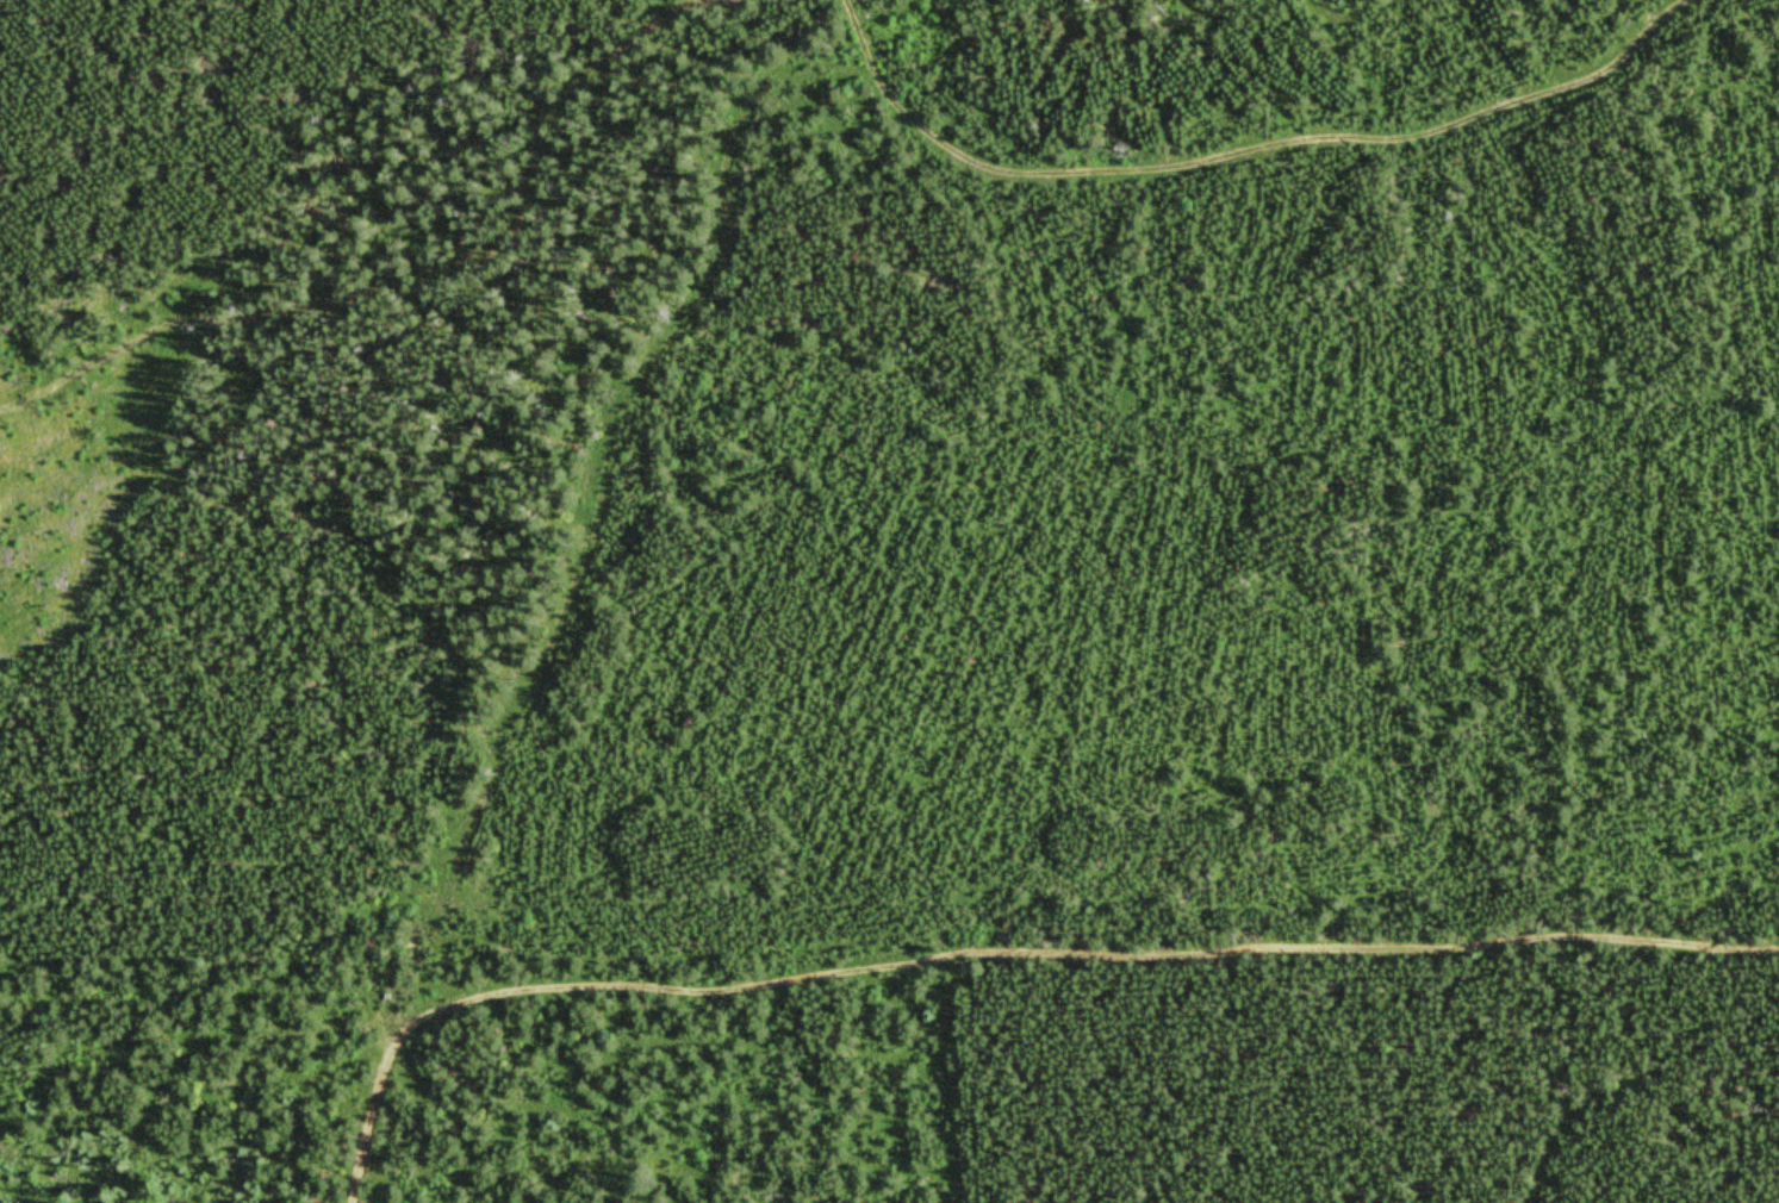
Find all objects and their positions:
road: (860, 36)
road: (730, 175)
road: (374, 233)
road: (1078, 947)

